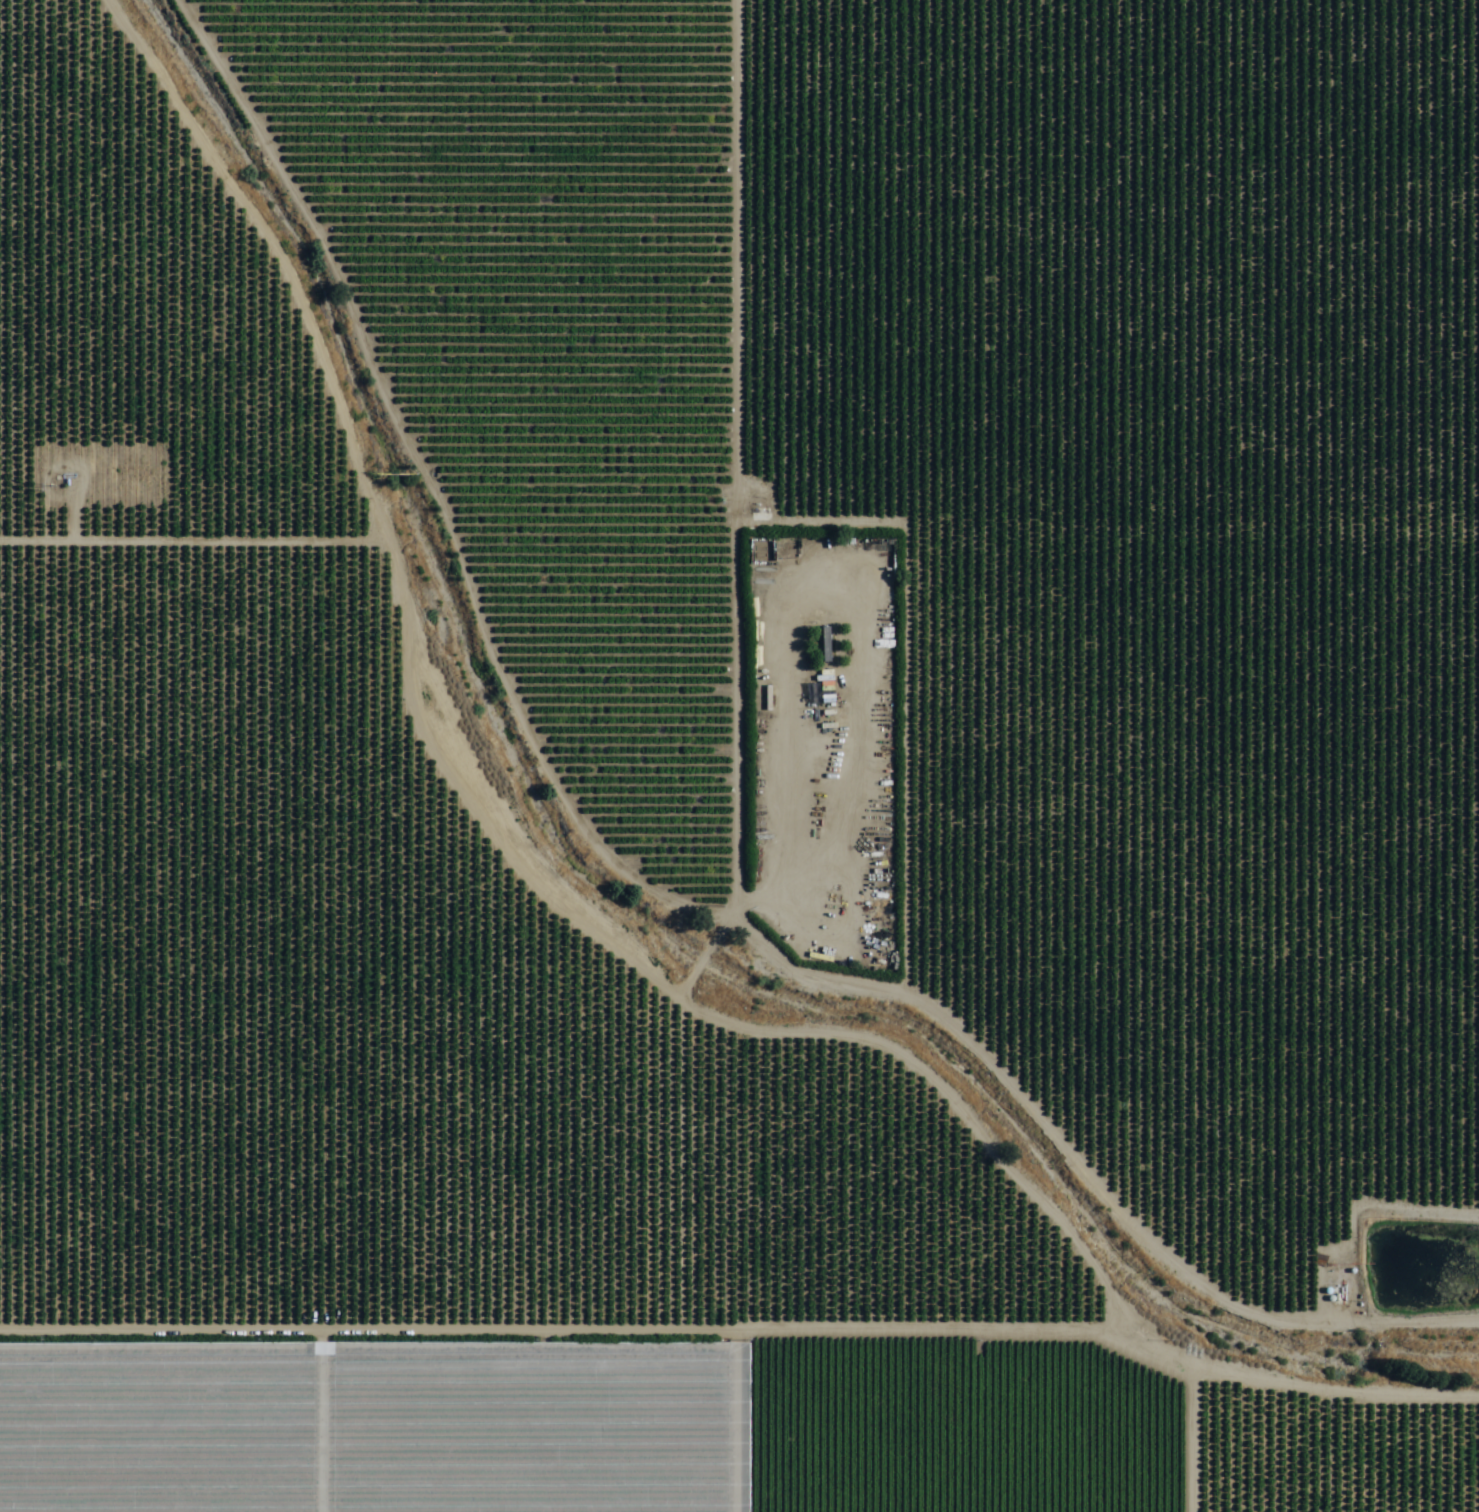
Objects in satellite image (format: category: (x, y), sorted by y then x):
crop: (955, 560)
building: (834, 584)
road: (388, 738)
road: (746, 755)
road: (739, 1290)
crop: (584, 1419)

